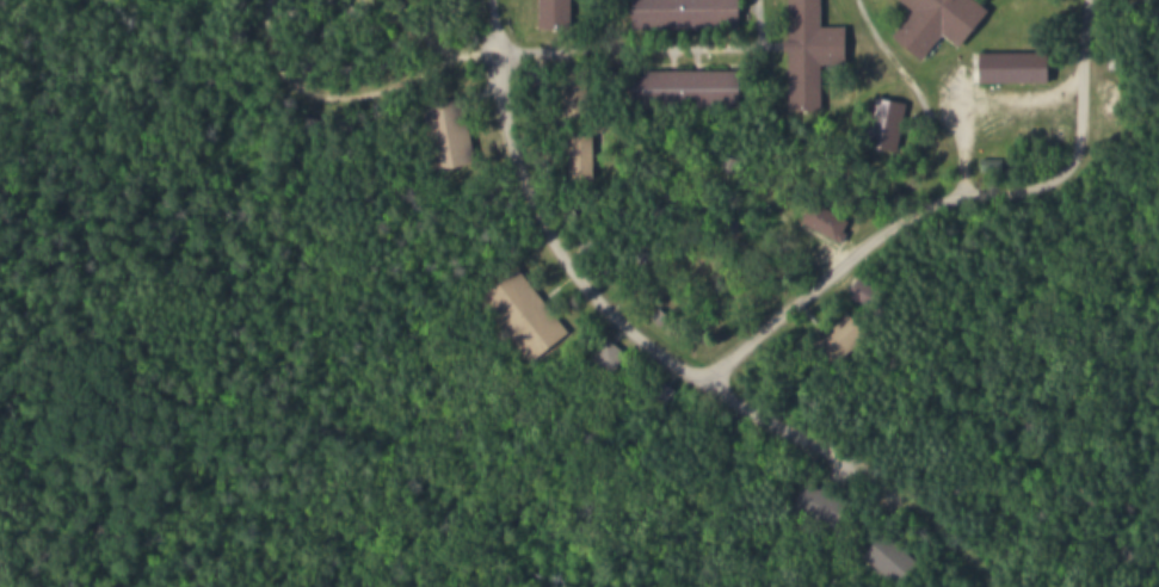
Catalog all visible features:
road: (487, 10)
building: (545, 10)
building: (648, 11)
building: (703, 11)
building: (944, 23)
road: (870, 32)
road: (425, 35)
road: (642, 45)
building: (799, 49)
building: (649, 85)
building: (704, 85)
road: (327, 94)
road: (984, 104)
parking lot: (980, 106)
road: (924, 110)
building: (438, 126)
road: (939, 196)
road: (590, 290)
park: (579, 293)
building: (512, 309)
road: (921, 511)

